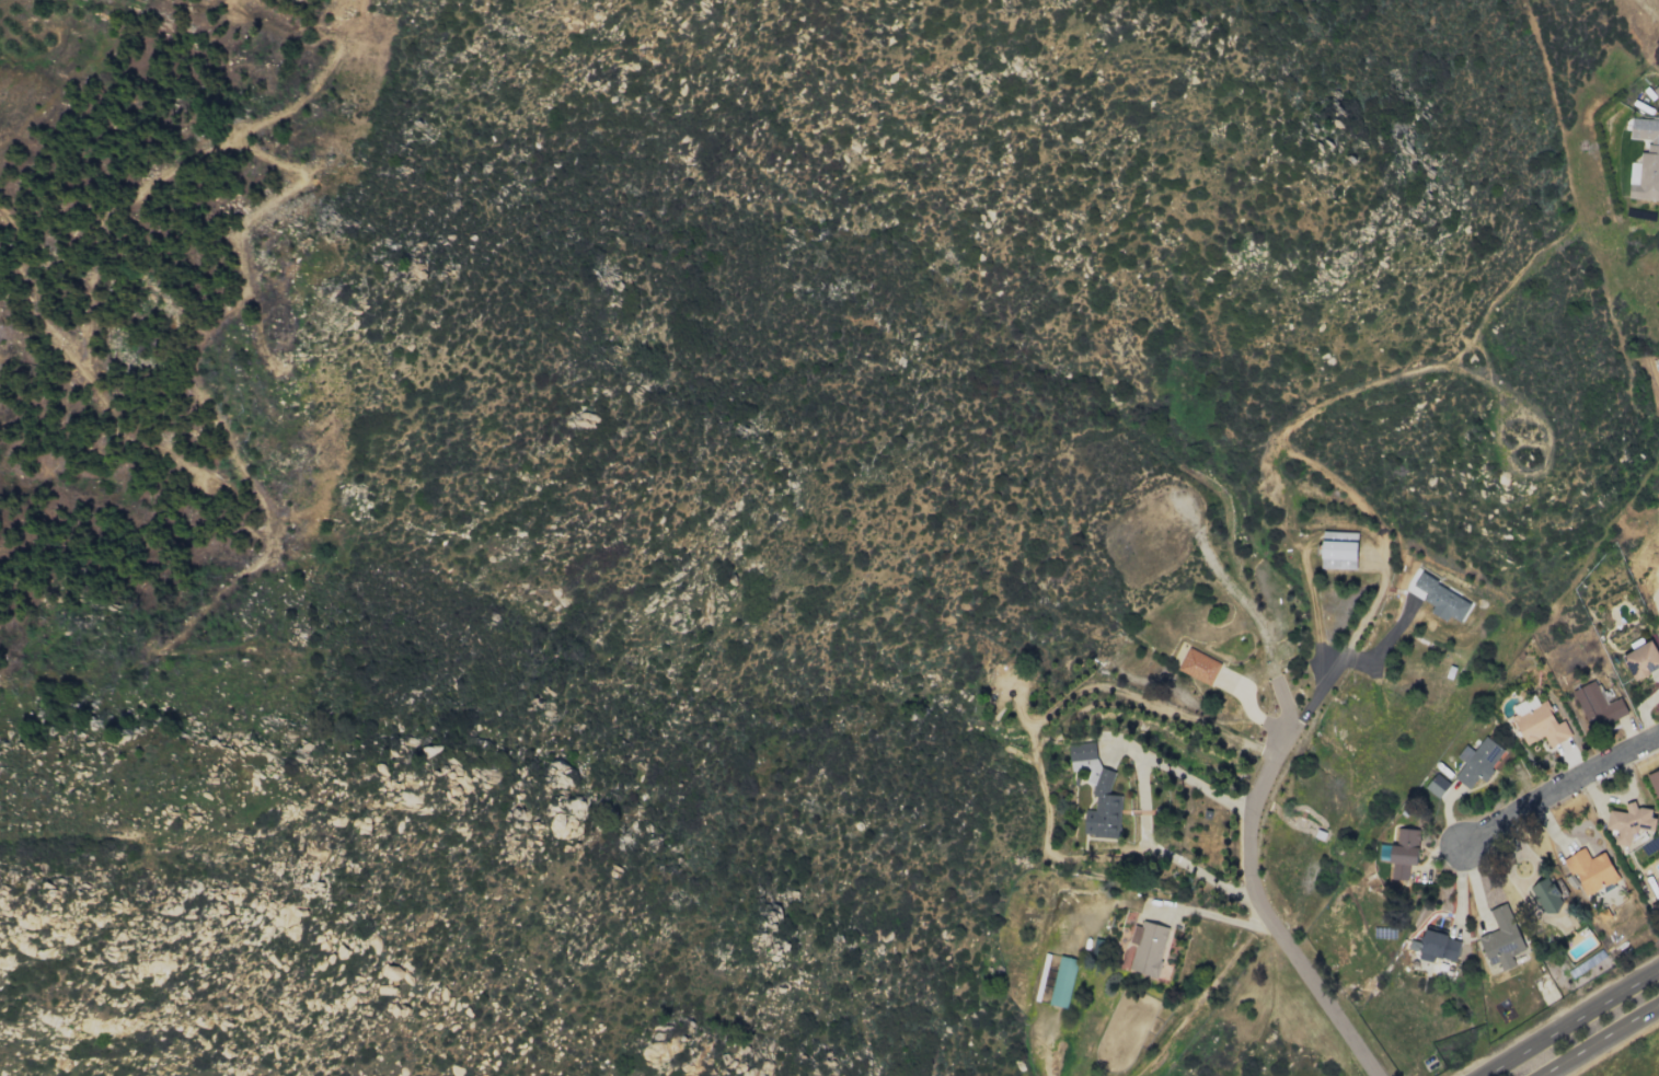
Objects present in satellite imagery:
building: (1646, 159)
building: (1338, 549)
building: (1440, 598)
building: (1641, 660)
building: (1198, 666)
road: (1325, 679)
building: (1598, 705)
building: (1537, 721)
building: (1477, 762)
building: (1655, 782)
building: (1437, 785)
road: (1559, 788)
building: (1096, 792)
road: (1140, 798)
building: (1629, 822)
building: (1403, 852)
building: (1590, 870)
building: (1547, 894)
building: (1501, 938)
building: (1147, 947)
building: (1438, 947)
road: (1293, 954)
building: (1062, 981)
road: (1568, 1020)
road: (1597, 1040)

